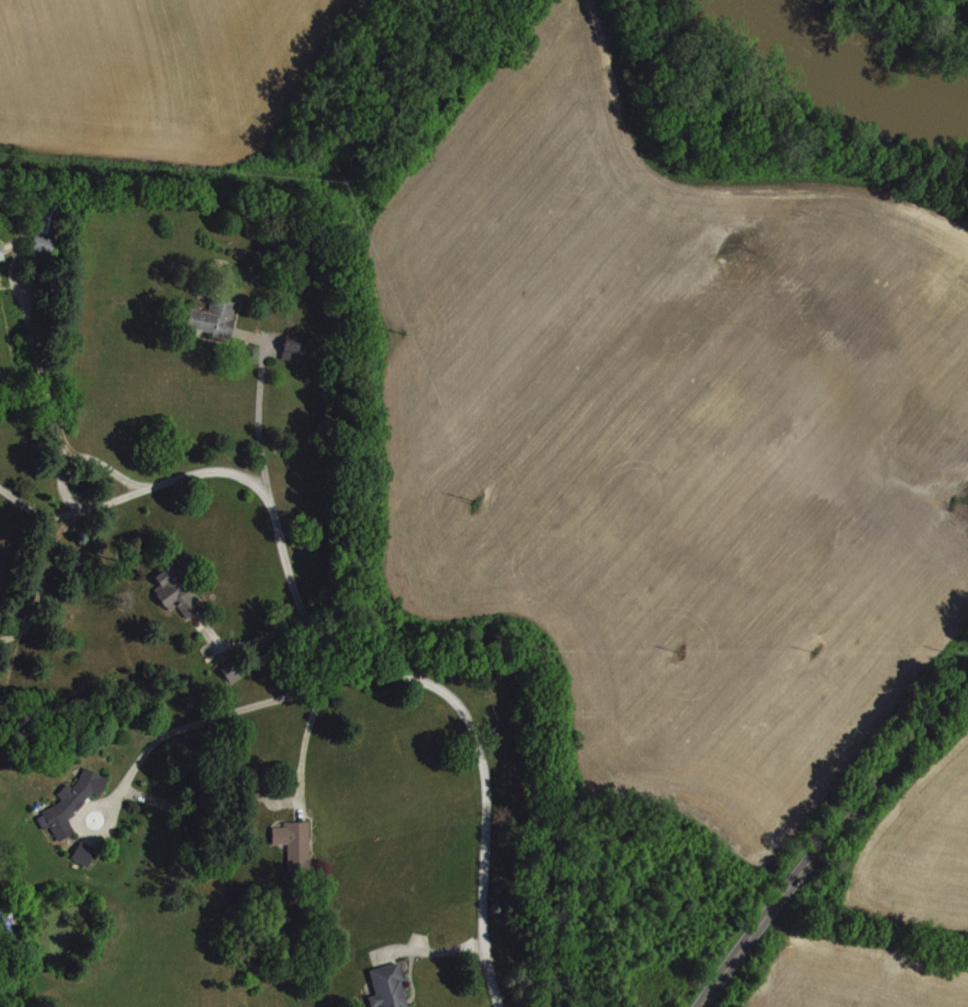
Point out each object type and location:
river: (855, 68)
crop: (154, 77)
building: (46, 217)
building: (40, 241)
building: (0, 254)
road: (13, 272)
building: (212, 315)
building: (292, 346)
road: (34, 356)
road: (257, 405)
crop: (673, 435)
road: (59, 477)
road: (38, 510)
road: (40, 573)
building: (174, 588)
road: (243, 642)
road: (399, 674)
road: (166, 730)
road: (301, 749)
road: (145, 794)
building: (69, 800)
building: (179, 806)
road: (827, 834)
building: (293, 843)
building: (81, 851)
road: (426, 950)
building: (386, 986)

